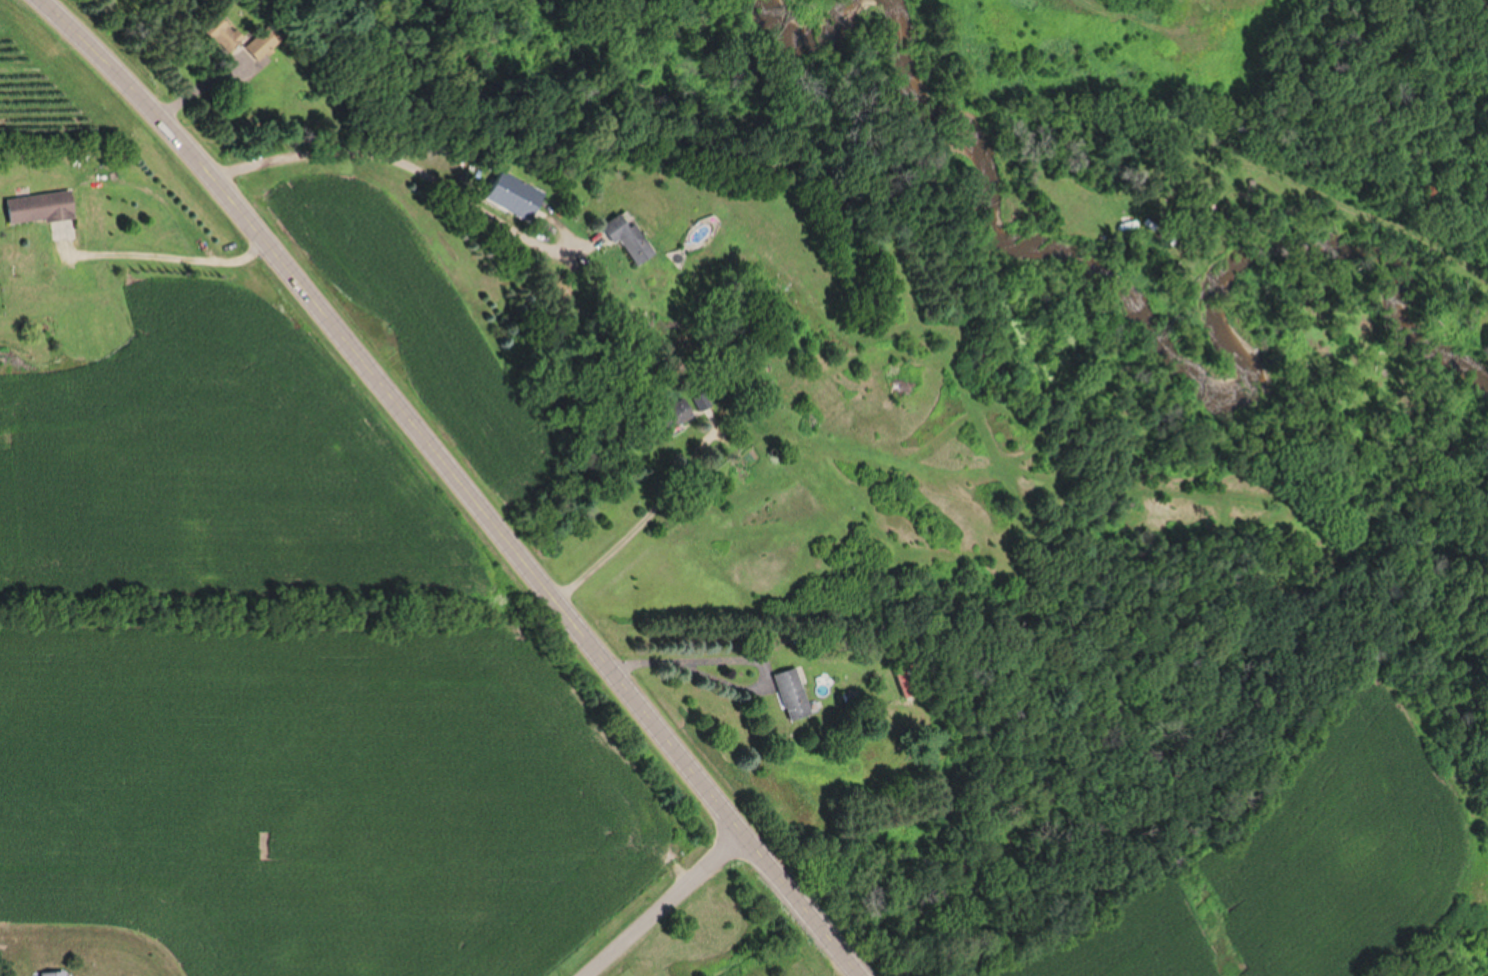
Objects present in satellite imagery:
building: (214, 37)
building: (253, 50)
road: (400, 160)
building: (502, 196)
building: (35, 207)
road: (151, 256)
building: (665, 416)
road: (454, 477)
road: (621, 539)
road: (694, 659)
building: (900, 680)
building: (783, 693)
road: (663, 906)
building: (49, 973)

